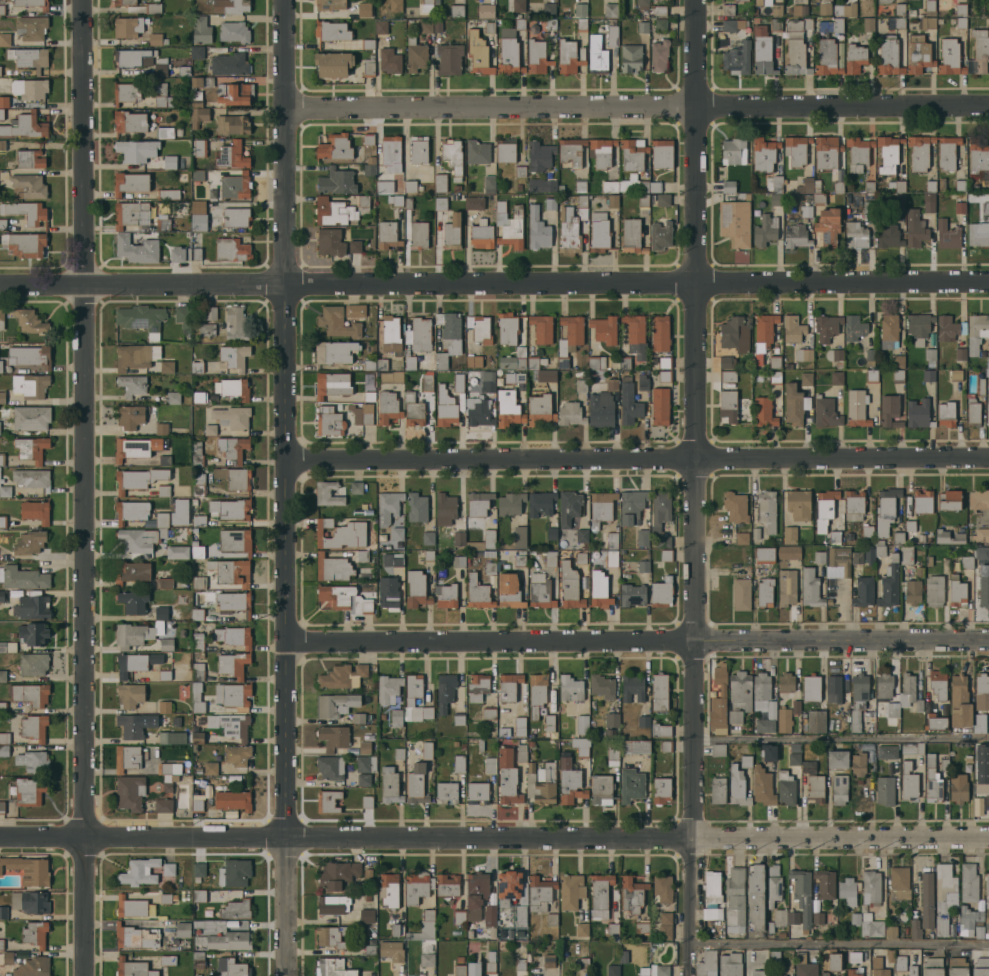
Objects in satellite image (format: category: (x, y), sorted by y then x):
building: (156, 0)
building: (741, 0)
building: (884, 1)
building: (762, 3)
building: (31, 4)
building: (330, 4)
building: (642, 4)
building: (930, 5)
building: (139, 6)
building: (230, 6)
building: (396, 6)
building: (427, 6)
building: (519, 6)
building: (549, 9)
building: (825, 9)
building: (845, 9)
building: (900, 9)
building: (960, 9)
building: (2, 10)
building: (364, 10)
building: (457, 10)
building: (581, 10)
building: (611, 10)
building: (728, 10)
building: (777, 10)
building: (799, 10)
building: (486, 11)
building: (660, 11)
building: (517, 16)
building: (146, 20)
building: (756, 20)
building: (895, 23)
building: (927, 23)
building: (961, 23)
building: (520, 24)
building: (551, 24)
building: (582, 24)
building: (660, 25)
building: (776, 25)
building: (869, 25)
building: (438, 26)
building: (729, 26)
building: (831, 26)
building: (128, 27)
building: (381, 27)
building: (427, 27)
building: (490, 27)
building: (643, 27)
building: (31, 28)
building: (201, 30)
building: (332, 31)
building: (234, 32)
building: (946, 33)
building: (953, 33)
building: (612, 36)
building: (5, 39)
building: (156, 39)
building: (368, 44)
building: (796, 46)
building: (762, 51)
building: (197, 52)
building: (979, 52)
building: (582, 53)
building: (415, 54)
building: (478, 54)
building: (919, 54)
building: (597, 55)
building: (659, 56)
building: (889, 56)
building: (29, 57)
building: (134, 57)
building: (509, 57)
building: (537, 57)
building: (568, 57)
building: (631, 58)
building: (738, 58)
building: (827, 58)
building: (855, 58)
building: (950, 58)
building: (449, 59)
building: (390, 61)
building: (230, 64)
building: (333, 65)
building: (368, 67)
building: (160, 70)
building: (0, 71)
building: (184, 71)
building: (160, 88)
building: (30, 89)
building: (126, 93)
building: (234, 94)
building: (197, 99)
building: (163, 100)
building: (4, 102)
road: (636, 107)
building: (2, 114)
building: (199, 116)
building: (130, 121)
building: (232, 125)
building: (26, 126)
building: (166, 132)
building: (368, 139)
building: (2, 145)
building: (245, 147)
building: (199, 148)
building: (335, 148)
building: (418, 150)
building: (796, 150)
building: (133, 151)
building: (506, 151)
building: (571, 151)
building: (477, 152)
building: (601, 152)
building: (734, 152)
building: (827, 152)
building: (919, 152)
building: (858, 153)
building: (947, 153)
building: (633, 154)
building: (662, 154)
building: (888, 154)
building: (392, 155)
building: (764, 155)
building: (978, 155)
building: (232, 156)
building: (539, 156)
building: (452, 157)
building: (30, 159)
building: (373, 161)
building: (173, 162)
building: (369, 170)
building: (520, 171)
building: (244, 172)
building: (198, 175)
building: (337, 181)
building: (130, 183)
building: (440, 183)
building: (629, 184)
building: (774, 184)
building: (941, 184)
building: (489, 185)
building: (542, 185)
building: (960, 185)
building: (28, 186)
building: (384, 186)
building: (410, 186)
building: (580, 186)
building: (610, 186)
building: (644, 186)
building: (798, 186)
building: (817, 186)
building: (900, 186)
building: (930, 186)
building: (235, 187)
building: (519, 187)
building: (655, 187)
building: (729, 187)
building: (839, 187)
building: (869, 187)
building: (457, 188)
building: (747, 188)
building: (561, 189)
building: (168, 194)
building: (744, 195)
building: (820, 199)
building: (395, 200)
building: (644, 200)
building: (663, 200)
building: (776, 200)
building: (613, 201)
building: (407, 203)
building: (475, 203)
building: (441, 204)
building: (550, 204)
building: (898, 205)
building: (582, 207)
building: (868, 207)
building: (929, 207)
building: (960, 208)
building: (339, 211)
building: (806, 211)
building: (25, 212)
building: (128, 214)
building: (197, 215)
building: (236, 217)
building: (735, 222)
building: (3, 224)
building: (163, 225)
building: (510, 225)
building: (829, 227)
building: (916, 229)
building: (980, 229)
building: (538, 230)
building: (765, 230)
building: (452, 231)
building: (599, 232)
building: (568, 233)
building: (419, 234)
building: (387, 235)
building: (482, 235)
building: (660, 235)
building: (855, 235)
building: (947, 235)
building: (632, 236)
building: (796, 237)
building: (888, 237)
building: (330, 242)
building: (24, 245)
building: (355, 246)
building: (137, 249)
building: (232, 250)
building: (179, 254)
building: (196, 254)
road: (494, 283)
building: (354, 310)
building: (209, 313)
building: (184, 318)
building: (141, 319)
building: (1, 320)
building: (30, 321)
building: (234, 322)
building: (337, 322)
building: (919, 325)
building: (826, 327)
building: (507, 328)
building: (542, 328)
building: (634, 328)
building: (854, 328)
building: (949, 328)
building: (206, 329)
building: (480, 329)
building: (605, 329)
building: (793, 329)
building: (450, 331)
building: (764, 331)
building: (889, 331)
building: (977, 332)
building: (660, 333)
building: (391, 334)
building: (419, 334)
building: (735, 334)
building: (570, 341)
building: (520, 351)
building: (335, 352)
building: (960, 353)
building: (930, 354)
building: (31, 355)
building: (234, 355)
building: (802, 355)
building: (835, 355)
building: (136, 356)
building: (870, 357)
building: (409, 361)
building: (441, 361)
building: (473, 361)
building: (774, 361)
building: (898, 361)
building: (535, 362)
building: (625, 362)
building: (665, 362)
building: (382, 363)
building: (512, 363)
building: (597, 363)
building: (727, 363)
building: (988, 363)
building: (369, 365)
building: (788, 365)
building: (806, 365)
building: (839, 365)
building: (1, 366)
building: (167, 367)
building: (198, 367)
building: (929, 375)
building: (956, 375)
building: (546, 376)
building: (665, 376)
building: (728, 376)
building: (872, 376)
building: (898, 376)
building: (392, 377)
building: (519, 377)
building: (775, 378)
building: (837, 378)
building: (806, 380)
building: (458, 382)
building: (488, 382)
building: (643, 382)
building: (427, 383)
building: (132, 385)
building: (332, 385)
building: (581, 385)
building: (612, 385)
building: (988, 385)
building: (30, 386)
building: (982, 387)
building: (233, 388)
building: (200, 396)
building: (369, 396)
building: (2, 397)
building: (213, 397)
building: (173, 398)
building: (795, 404)
building: (629, 405)
building: (660, 406)
building: (729, 406)
building: (339, 407)
building: (388, 407)
building: (445, 407)
building: (857, 408)
building: (508, 409)
building: (602, 409)
building: (413, 410)
building: (540, 410)
building: (478, 411)
building: (890, 411)
building: (764, 412)
building: (826, 412)
building: (973, 412)
building: (987, 413)
building: (362, 414)
building: (570, 414)
building: (918, 414)
building: (946, 414)
building: (130, 417)
building: (232, 417)
building: (31, 418)
building: (329, 421)
building: (162, 429)
building: (210, 430)
building: (155, 443)
building: (232, 447)
building: (32, 449)
building: (131, 449)
building: (197, 453)
road: (637, 457)
building: (2, 459)
building: (164, 461)
building: (185, 463)
building: (220, 473)
building: (32, 478)
building: (139, 479)
building: (239, 479)
building: (0, 481)
building: (199, 484)
road: (285, 487)
road: (84, 488)
building: (356, 488)
road: (694, 488)
building: (164, 490)
building: (5, 491)
building: (327, 494)
building: (949, 500)
building: (979, 500)
building: (195, 502)
building: (922, 502)
building: (541, 503)
building: (478, 504)
building: (510, 504)
building: (799, 505)
building: (854, 505)
building: (388, 506)
building: (631, 506)
building: (417, 507)
building: (569, 507)
building: (736, 507)
building: (213, 508)
building: (445, 508)
building: (601, 508)
building: (235, 509)
building: (825, 509)
building: (181, 510)
building: (661, 510)
building: (886, 510)
building: (36, 511)
building: (131, 511)
building: (768, 511)
building: (163, 521)
building: (198, 521)
building: (3, 522)
building: (867, 531)
building: (910, 532)
building: (397, 533)
building: (756, 533)
building: (341, 534)
building: (552, 534)
building: (789, 535)
building: (942, 535)
building: (981, 535)
building: (520, 536)
building: (582, 537)
building: (835, 537)
building: (428, 538)
building: (742, 538)
building: (899, 538)
building: (140, 539)
building: (459, 539)
building: (643, 539)
building: (609, 540)
building: (235, 541)
building: (484, 541)
building: (777, 541)
building: (29, 542)
building: (663, 542)
building: (177, 552)
building: (198, 552)
building: (522, 552)
building: (789, 552)
building: (572, 553)
building: (981, 553)
building: (362, 555)
building: (667, 555)
building: (764, 555)
building: (906, 555)
building: (429, 556)
building: (869, 556)
building: (819, 557)
building: (550, 558)
building: (581, 558)
building: (857, 558)
building: (894, 558)
building: (612, 559)
building: (392, 560)
building: (840, 560)
building: (520, 561)
building: (459, 562)
building: (966, 562)
building: (644, 567)
building: (333, 568)
building: (490, 568)
building: (131, 572)
building: (231, 572)
building: (441, 572)
building: (887, 577)
building: (23, 578)
building: (164, 583)
building: (199, 583)
building: (183, 584)
building: (570, 586)
building: (984, 586)
building: (787, 587)
building: (811, 588)
building: (416, 589)
building: (599, 589)
building: (509, 591)
building: (540, 591)
building: (913, 591)
building: (935, 591)
building: (957, 591)
building: (765, 592)
building: (864, 592)
building: (389, 593)
building: (478, 593)
building: (662, 593)
building: (632, 594)
building: (741, 594)
building: (3, 596)
building: (446, 596)
building: (345, 599)
building: (133, 602)
building: (233, 603)
building: (32, 606)
building: (161, 613)
building: (198, 614)
building: (33, 633)
building: (136, 634)
building: (233, 636)
building: (198, 642)
road: (637, 642)
building: (166, 644)
building: (8, 646)
building: (136, 662)
building: (33, 664)
building: (233, 664)
building: (198, 672)
building: (3, 675)
building: (165, 675)
building: (342, 676)
building: (720, 677)
building: (786, 683)
building: (938, 684)
building: (509, 686)
building: (602, 686)
building: (478, 687)
building: (884, 687)
building: (570, 688)
building: (632, 688)
building: (812, 688)
building: (388, 689)
building: (834, 689)
building: (907, 690)
building: (445, 692)
building: (659, 692)
building: (218, 693)
building: (30, 694)
building: (537, 694)
building: (131, 695)
building: (236, 695)
building: (739, 696)
building: (198, 699)
building: (858, 700)
building: (410, 702)
building: (764, 703)
building: (960, 703)
building: (981, 703)
building: (335, 705)
building: (3, 707)
building: (164, 707)
building: (892, 710)
building: (489, 713)
building: (383, 716)
building: (718, 716)
building: (359, 718)
building: (396, 718)
building: (459, 719)
building: (216, 720)
building: (612, 720)
building: (644, 721)
building: (784, 721)
building: (520, 722)
building: (816, 722)
building: (935, 722)
building: (549, 723)
building: (582, 724)
building: (172, 725)
building: (131, 726)
building: (35, 727)
building: (237, 727)
building: (505, 727)
building: (661, 730)
building: (609, 732)
building: (551, 735)
building: (172, 737)
building: (332, 737)
building: (5, 738)
building: (197, 740)
road: (841, 741)
building: (531, 744)
building: (480, 745)
building: (463, 746)
building: (666, 746)
building: (195, 747)
building: (581, 747)
building: (625, 747)
building: (640, 747)
building: (365, 748)
building: (913, 748)
building: (4, 750)
building: (427, 750)
building: (718, 750)
building: (869, 751)
building: (888, 752)
building: (521, 753)
building: (768, 753)
building: (399, 754)
building: (237, 755)
building: (613, 757)
building: (127, 758)
building: (794, 759)
building: (838, 759)
building: (34, 761)
building: (746, 761)
building: (459, 762)
building: (366, 763)
building: (859, 764)
building: (981, 764)
building: (490, 765)
building: (330, 767)
building: (170, 768)
building: (210, 768)
building: (199, 770)
building: (507, 778)
building: (364, 779)
building: (932, 779)
building: (569, 780)
building: (169, 782)
building: (813, 782)
building: (909, 782)
building: (542, 783)
building: (416, 784)
building: (389, 785)
building: (631, 785)
building: (738, 786)
building: (763, 786)
building: (786, 788)
building: (958, 788)
building: (839, 789)
building: (31, 790)
building: (601, 790)
building: (661, 791)
building: (718, 791)
building: (885, 791)
building: (130, 793)
building: (446, 793)
building: (477, 793)
building: (233, 800)
building: (328, 801)
building: (367, 802)
building: (164, 805)
building: (197, 806)
building: (2, 807)
road: (494, 837)
building: (169, 869)
building: (29, 870)
building: (199, 870)
building: (140, 872)
building: (235, 872)
building: (368, 873)
building: (337, 874)
building: (899, 883)
building: (969, 883)
building: (447, 885)
building: (416, 887)
building: (509, 887)
building: (663, 887)
building: (826, 887)
building: (871, 888)
building: (987, 888)
building: (945, 889)
building: (389, 890)
building: (774, 890)
building: (571, 891)
building: (849, 891)
building: (540, 893)
building: (476, 894)
building: (601, 895)
building: (632, 895)
building: (199, 896)
building: (712, 896)
building: (756, 896)
building: (802, 896)
building: (168, 898)
building: (368, 898)
building: (735, 900)
building: (927, 900)
building: (30, 902)
building: (332, 904)
building: (131, 907)
building: (237, 909)
building: (3, 913)
building: (490, 915)
building: (367, 916)
building: (521, 916)
building: (987, 916)
building: (459, 917)
building: (666, 918)
building: (793, 918)
building: (823, 918)
building: (778, 919)
building: (856, 919)
building: (552, 920)
building: (970, 923)
building: (210, 925)
building: (941, 925)
building: (643, 927)
building: (871, 927)
building: (424, 928)
building: (613, 929)
building: (915, 929)
building: (183, 930)
building: (582, 930)
building: (397, 932)
building: (492, 932)
building: (665, 932)
building: (890, 932)
building: (35, 934)
building: (469, 935)
building: (127, 936)
building: (334, 936)
building: (224, 941)
building: (2, 944)
road: (839, 944)
building: (370, 950)
building: (391, 951)
building: (413, 951)
building: (583, 955)
building: (624, 957)
building: (6, 958)
building: (528, 958)
building: (775, 958)
building: (198, 959)
building: (459, 959)
building: (427, 960)
building: (168, 961)
building: (549, 961)
building: (898, 961)
building: (834, 962)
building: (490, 963)
building: (521, 964)
building: (707, 964)
building: (730, 964)
building: (33, 967)
building: (333, 967)
building: (932, 967)
building: (957, 967)
building: (981, 967)
building: (133, 968)
building: (235, 969)
building: (474, 969)
building: (642, 969)
building: (806, 969)
building: (460, 970)
building: (613, 970)
building: (660, 970)
building: (853, 972)
building: (879, 972)
building: (759, 973)
building: (373, 974)
building: (825, 974)

